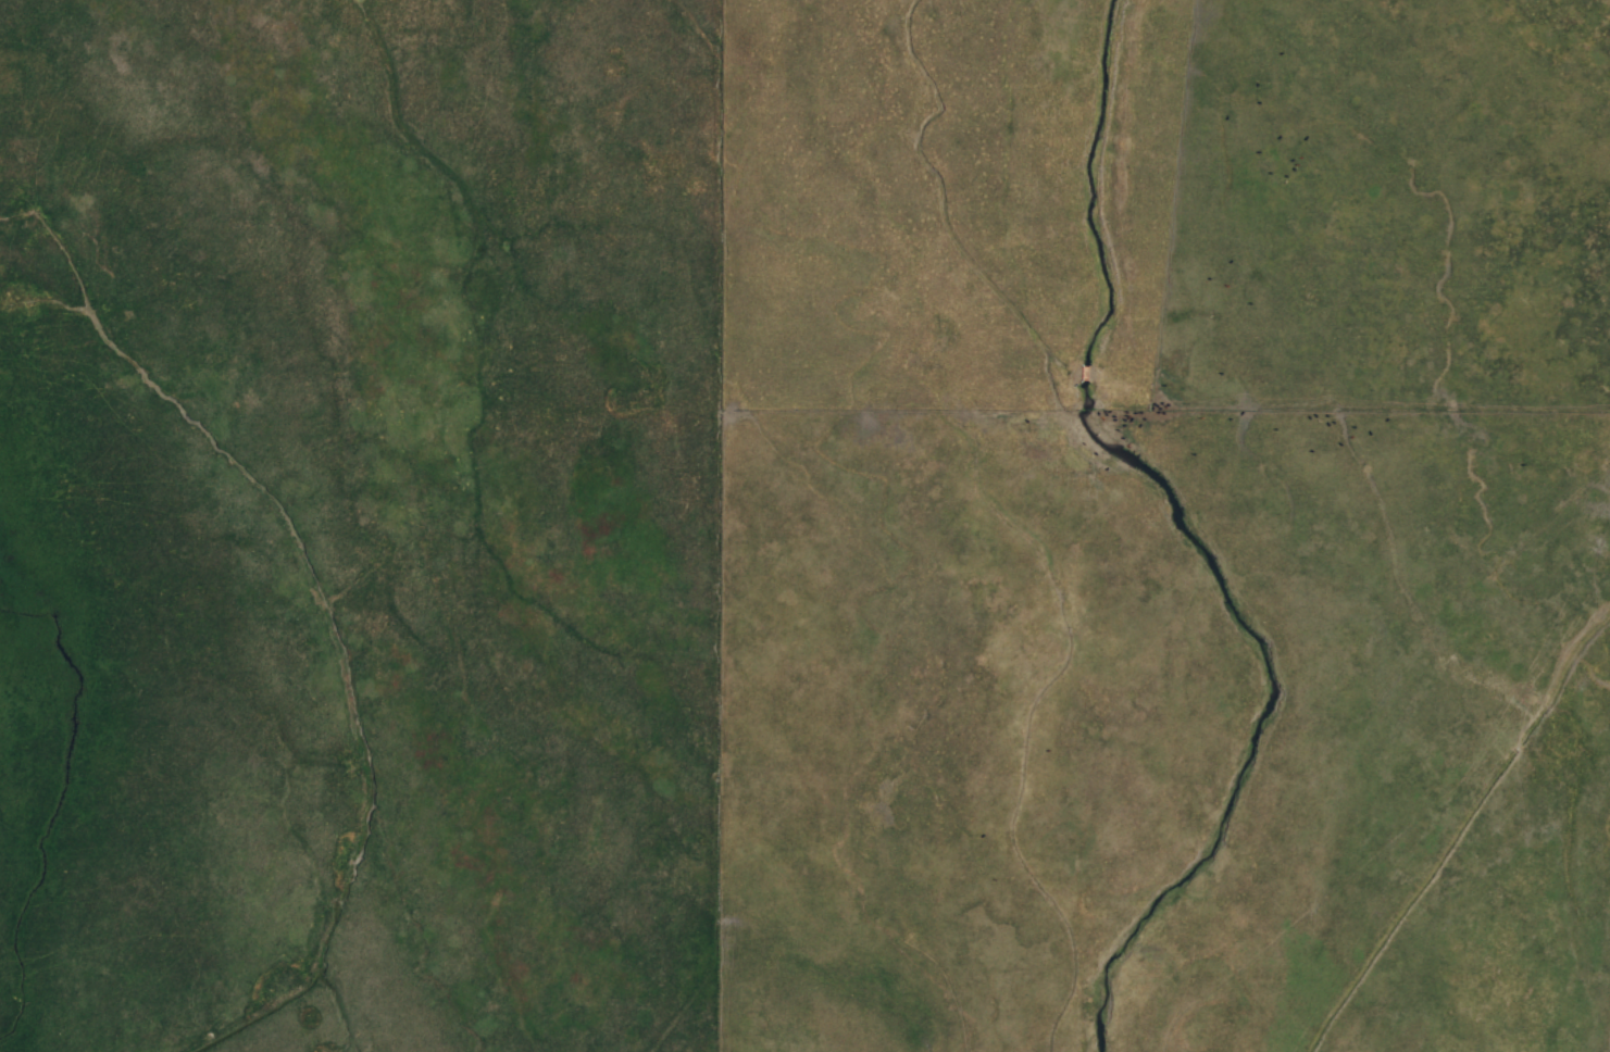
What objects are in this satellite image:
crop: (804, 526)

